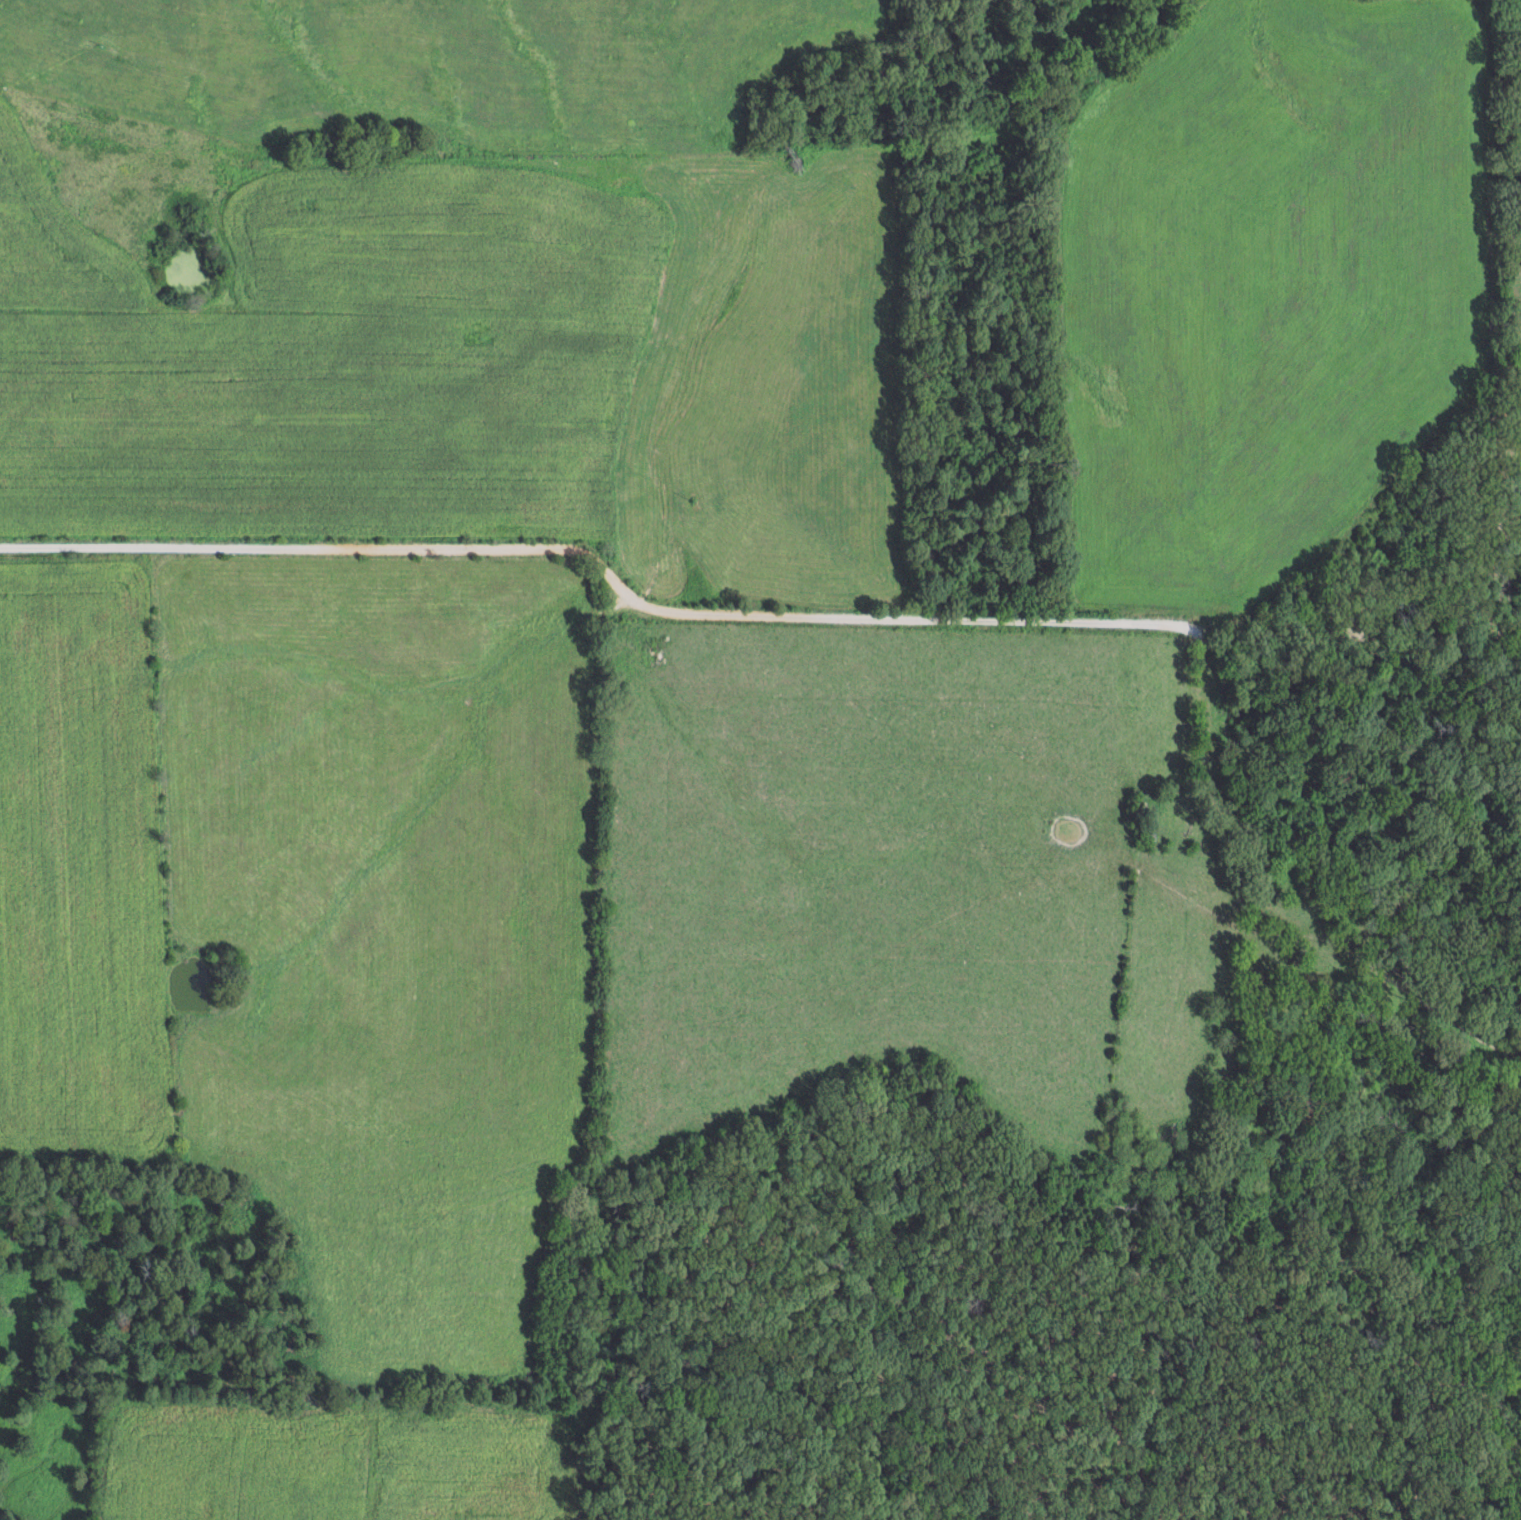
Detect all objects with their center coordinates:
road: (98, 450)
road: (57, 479)
road: (689, 605)

